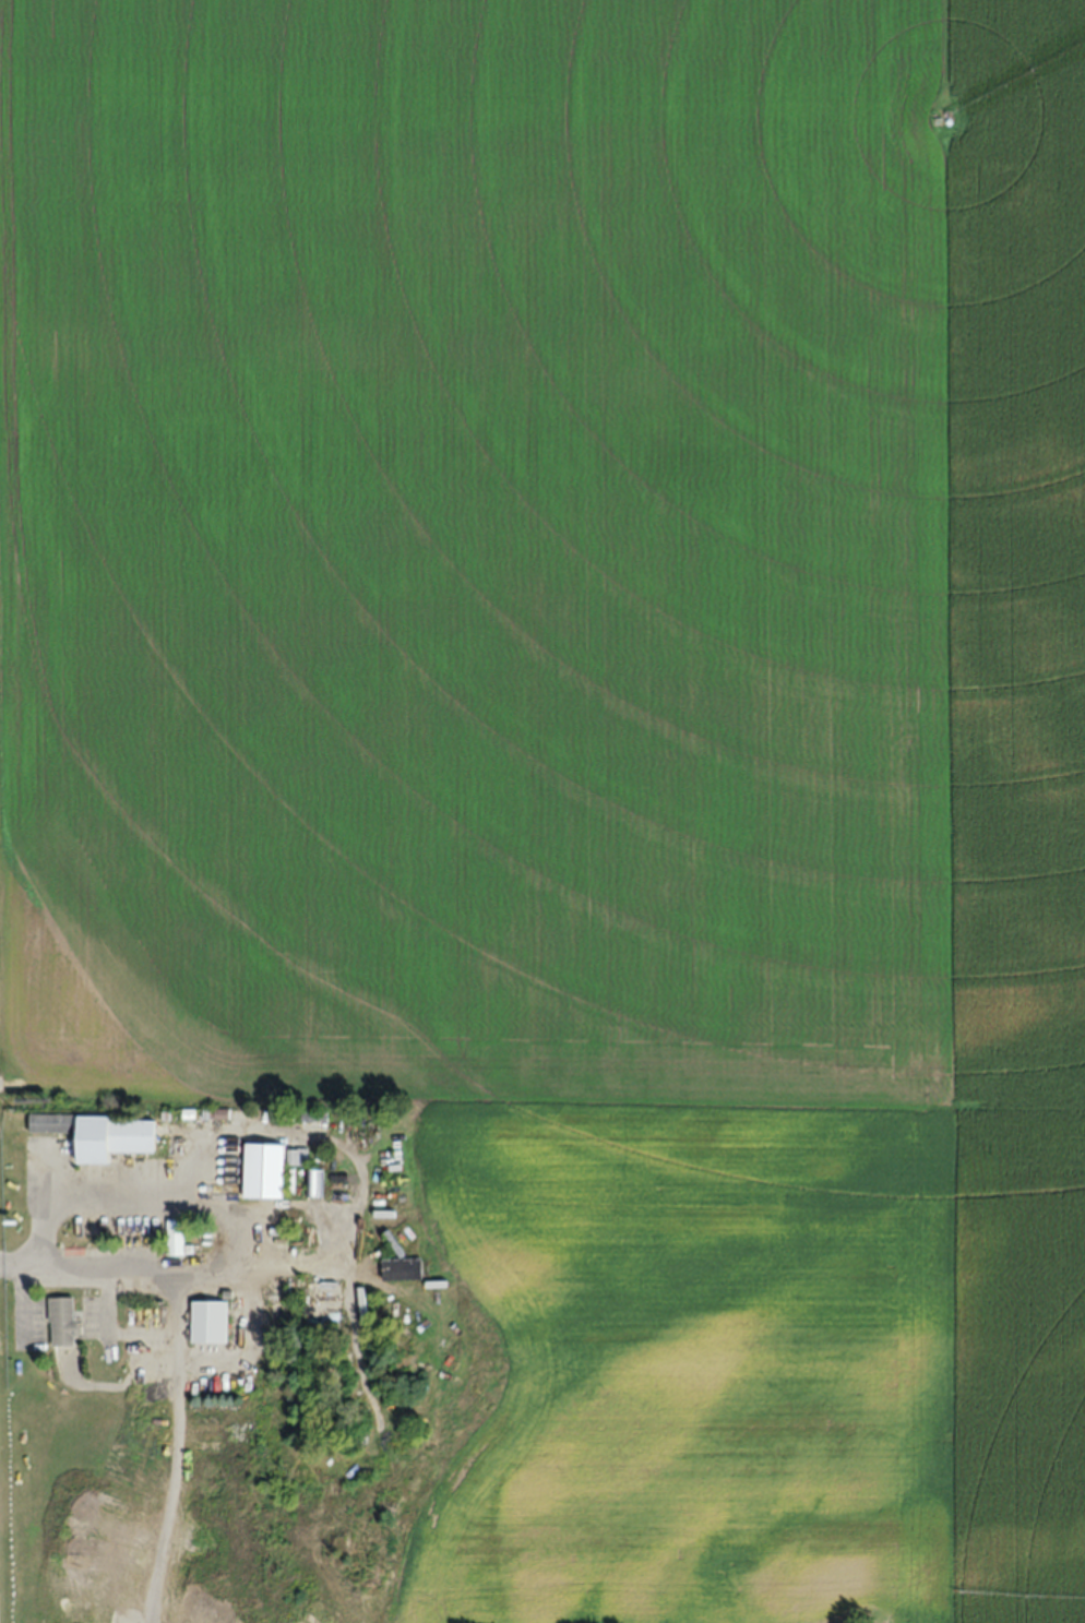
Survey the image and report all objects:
building: (312, 1118)
building: (51, 1123)
building: (112, 1138)
building: (264, 1171)
building: (315, 1183)
road: (109, 1202)
building: (175, 1238)
road: (148, 1266)
building: (403, 1269)
building: (63, 1322)
building: (210, 1324)
quarry: (883, 1622)

